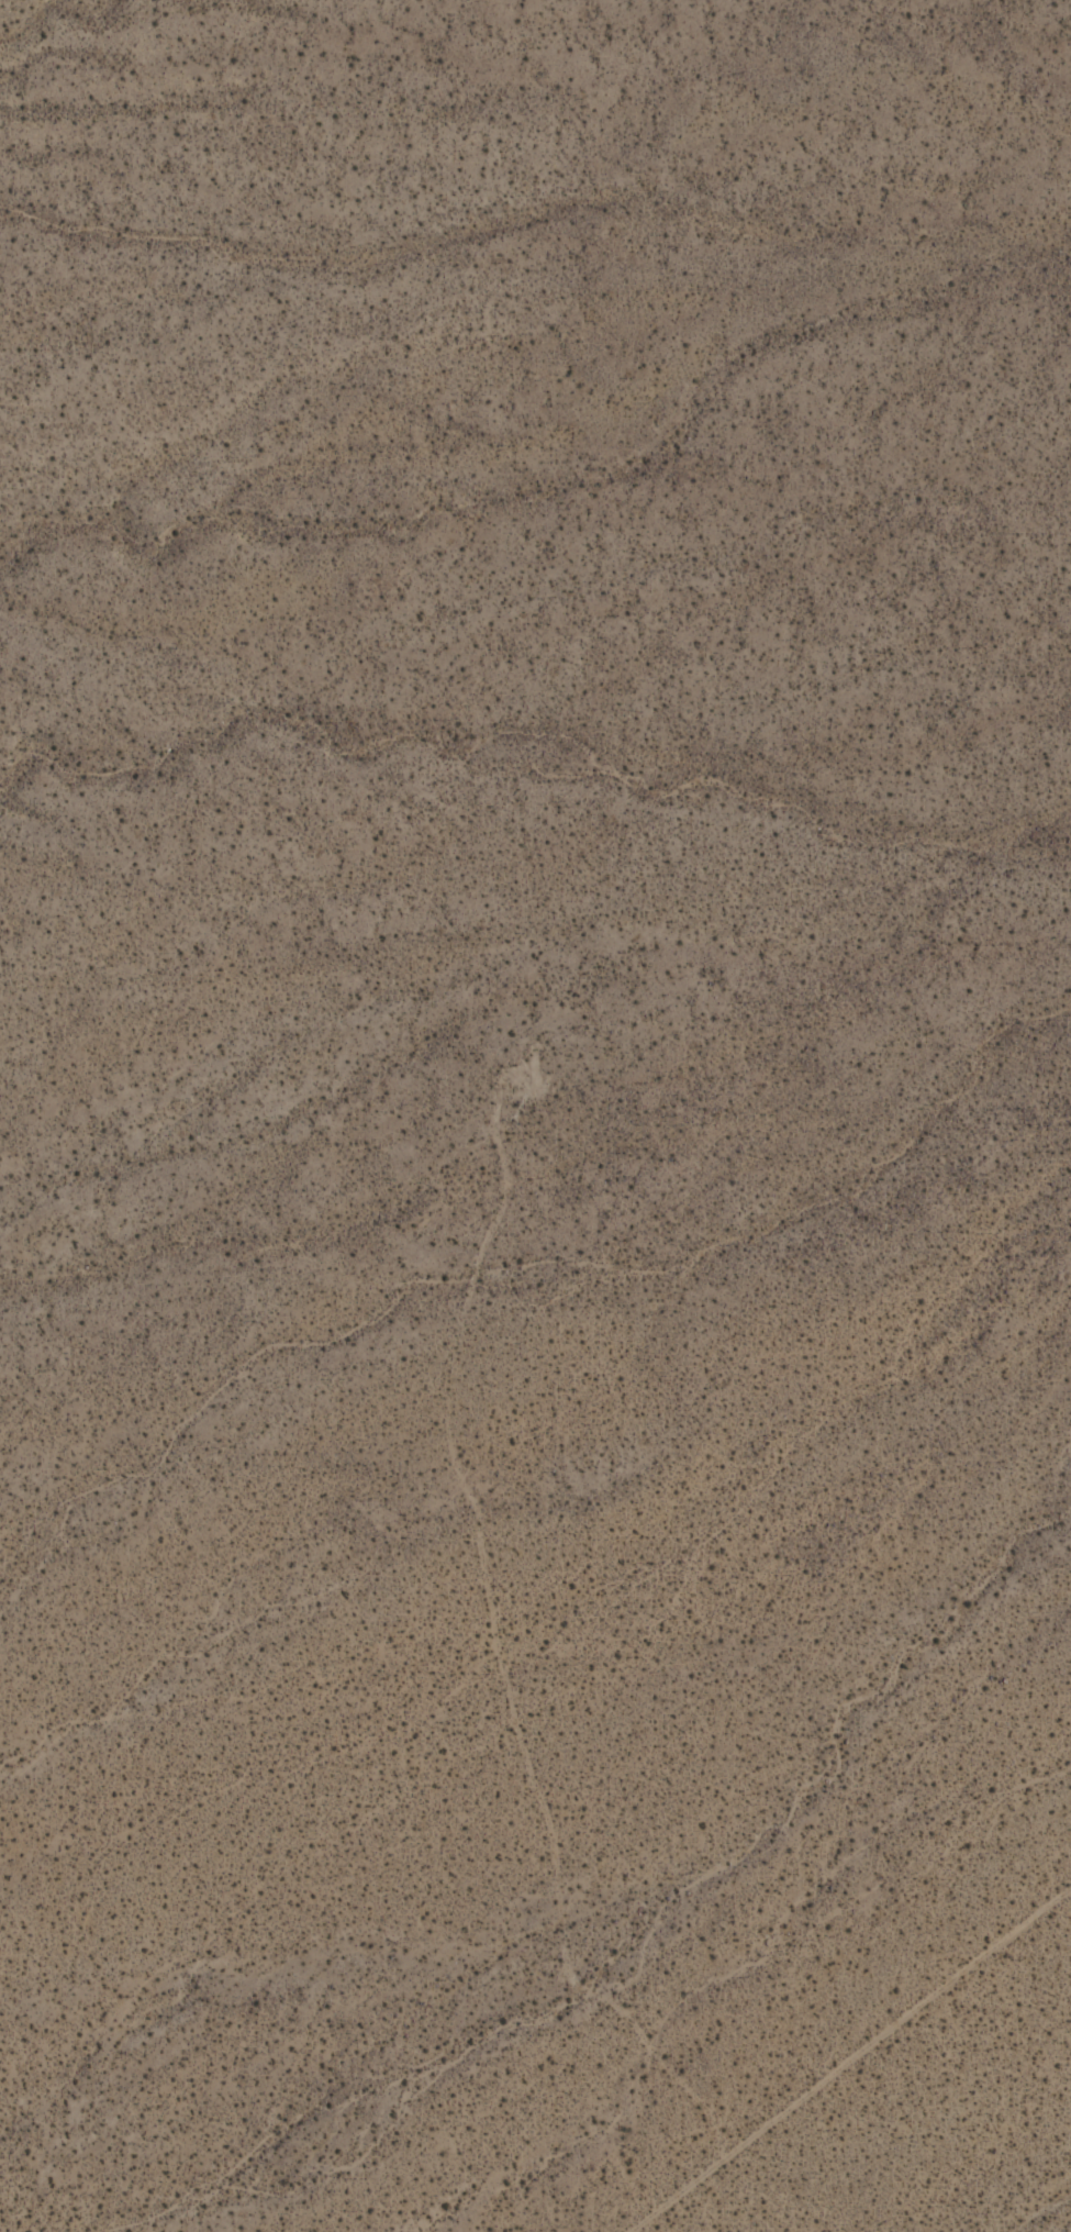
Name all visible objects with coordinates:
road: (851, 2058)

